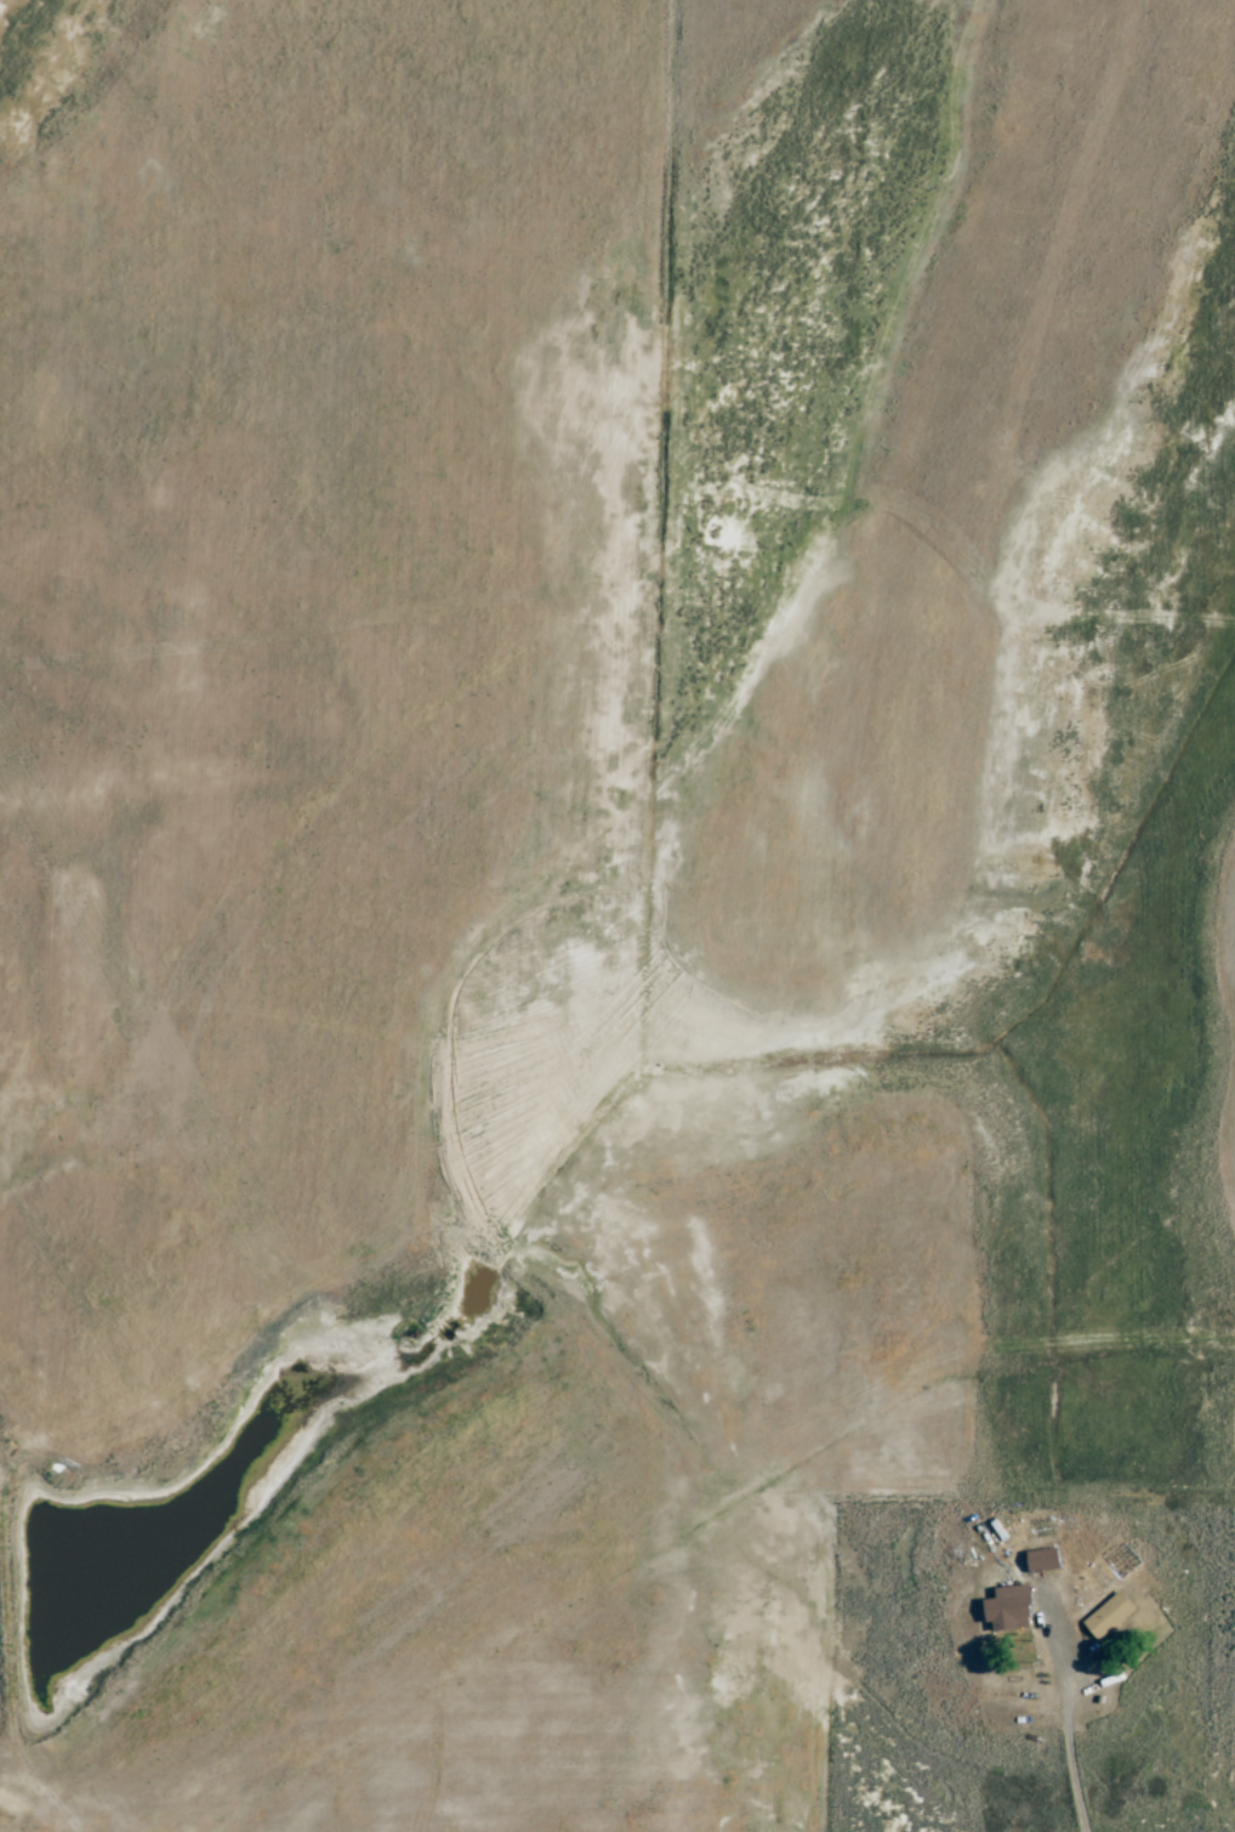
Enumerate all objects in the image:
road: (661, 625)
road: (872, 1498)
building: (1043, 1560)
building: (1009, 1609)
building: (1110, 1616)
road: (1079, 1783)

